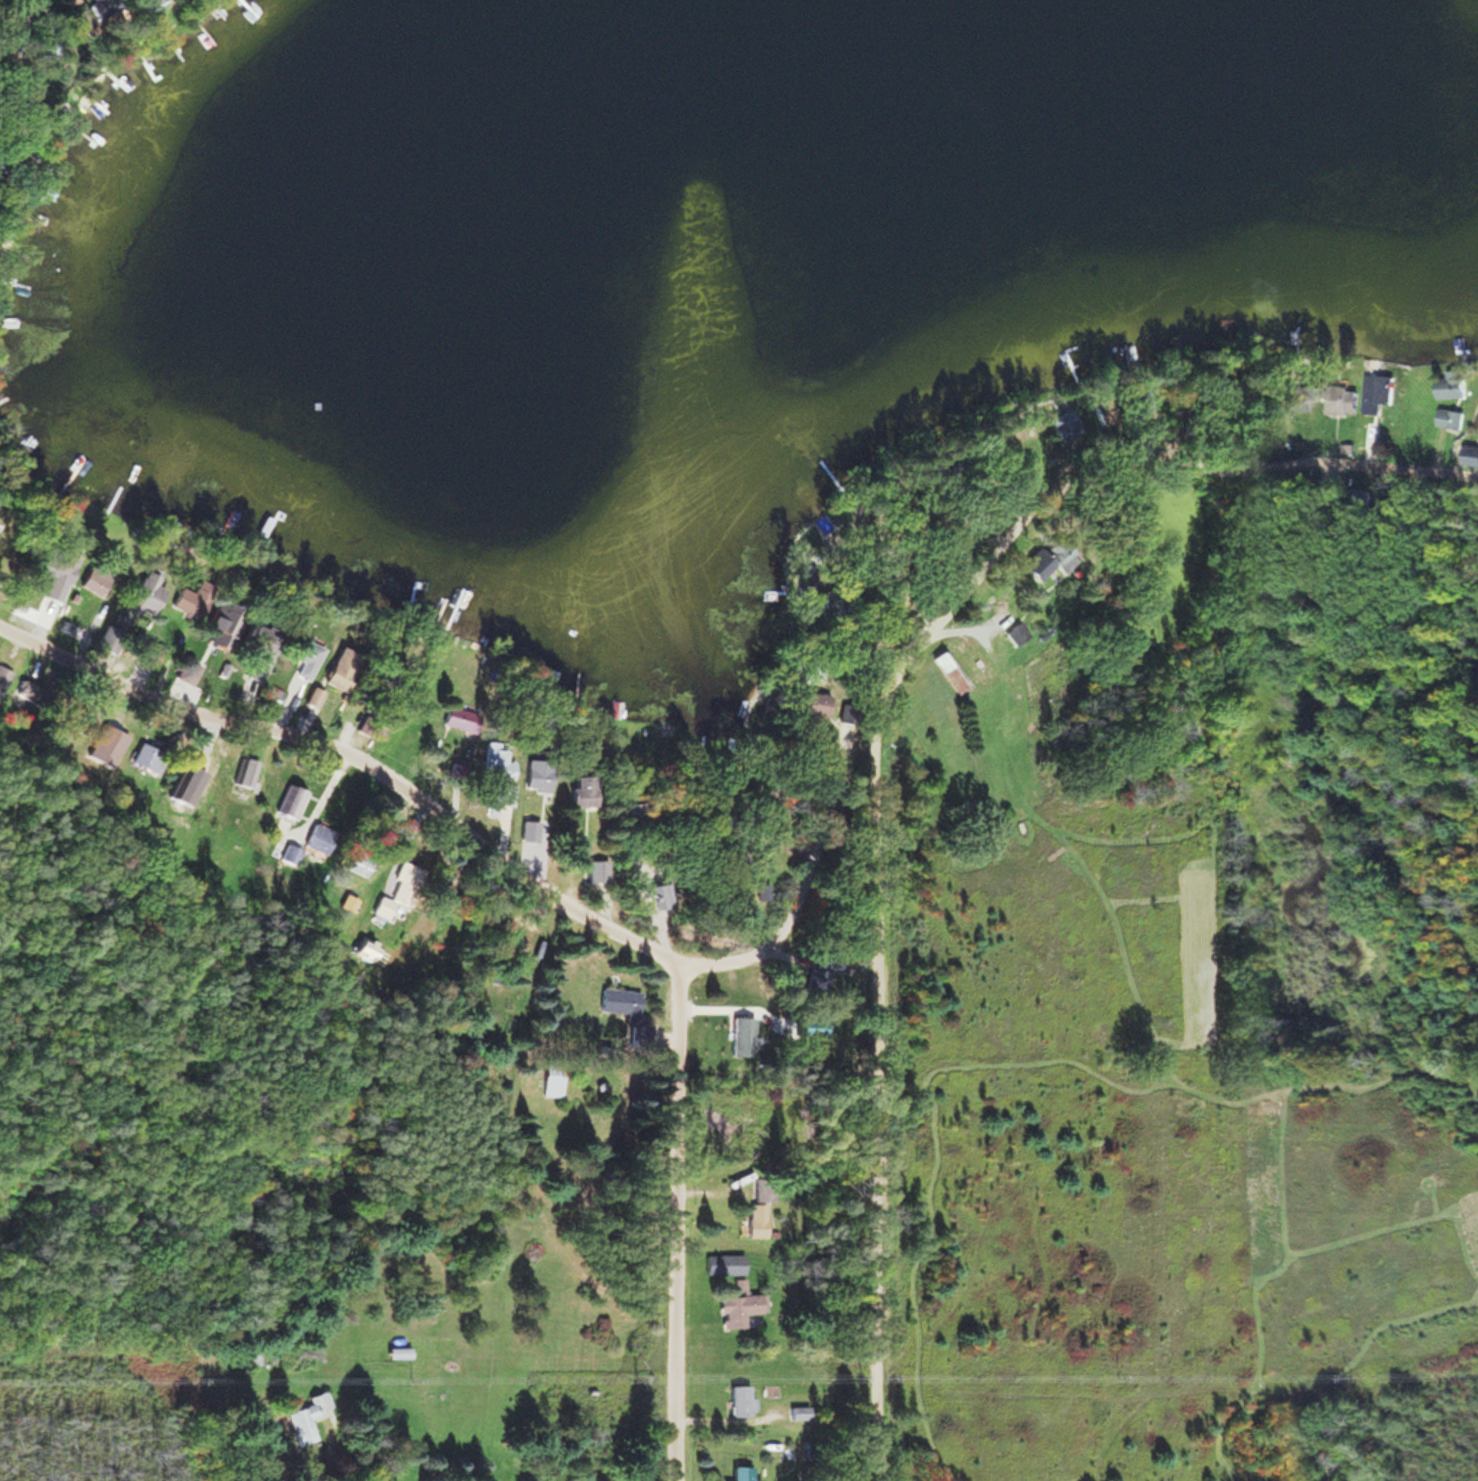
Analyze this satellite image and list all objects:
building: (150, 2)
road: (10, 8)
building: (77, 20)
building: (1450, 388)
building: (1376, 392)
building: (1341, 400)
building: (1449, 418)
building: (983, 446)
building: (1470, 455)
building: (1042, 560)
building: (55, 569)
building: (92, 579)
building: (140, 597)
building: (222, 623)
building: (1008, 633)
building: (253, 647)
building: (302, 656)
building: (944, 662)
building: (180, 689)
building: (998, 699)
road: (877, 735)
road: (391, 770)
building: (242, 772)
building: (534, 775)
building: (493, 777)
building: (578, 794)
building: (288, 804)
building: (527, 826)
building: (596, 871)
building: (735, 875)
building: (395, 893)
building: (363, 948)
building: (812, 982)
building: (616, 1000)
building: (737, 1035)
building: (549, 1080)
road: (674, 1217)
building: (755, 1219)
building: (722, 1262)
building: (738, 1308)
building: (396, 1352)
building: (738, 1400)
building: (307, 1410)
building: (741, 1473)

